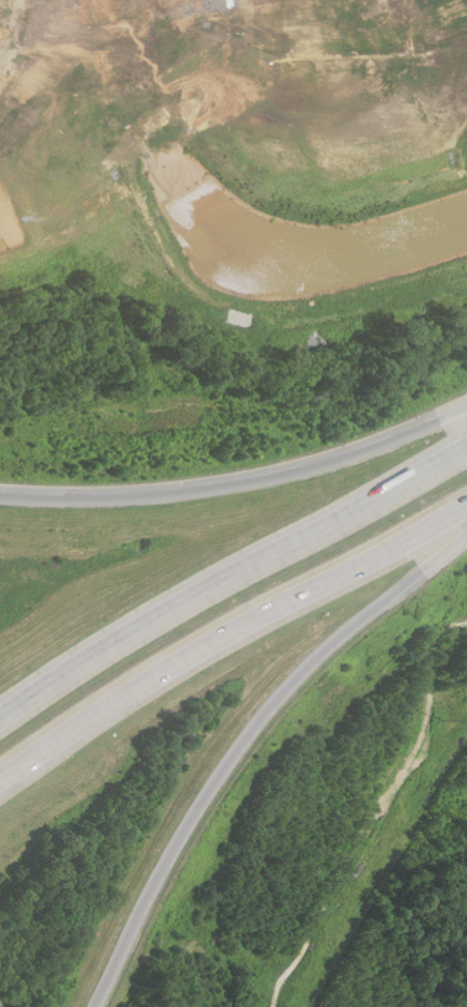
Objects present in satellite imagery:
road: (239, 481)
road: (229, 573)
road: (229, 632)
road: (247, 740)

